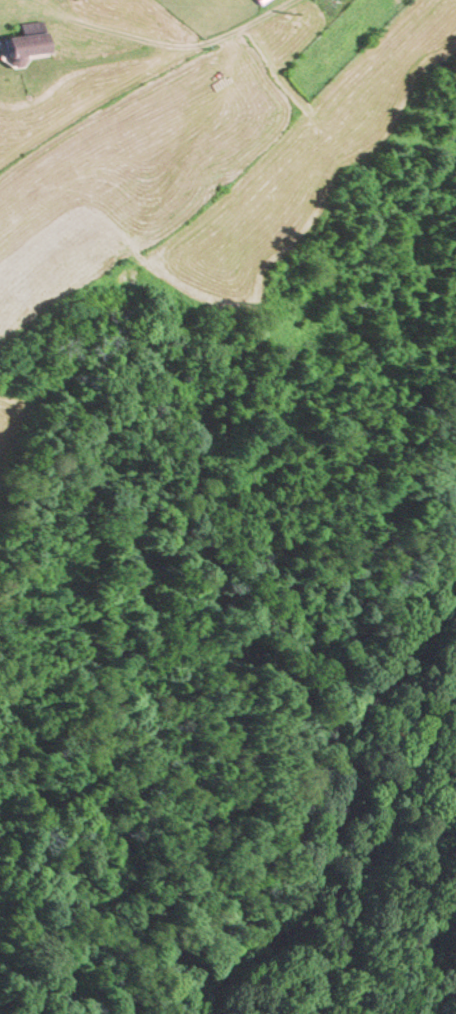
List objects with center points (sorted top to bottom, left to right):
road: (238, 32)
building: (25, 40)

